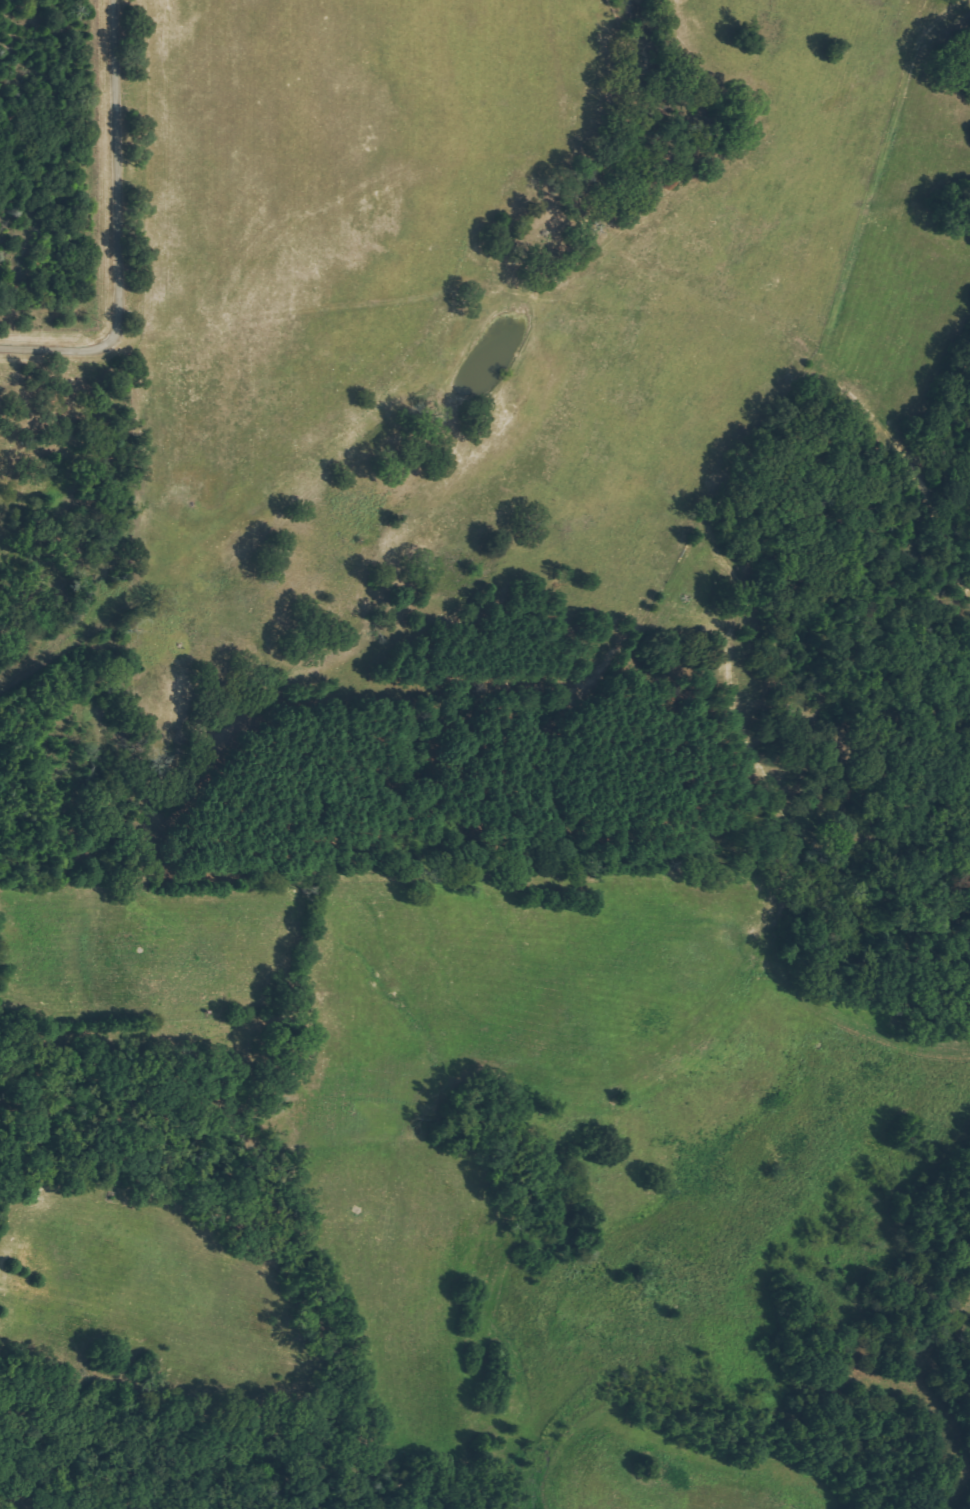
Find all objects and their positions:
road: (118, 229)

